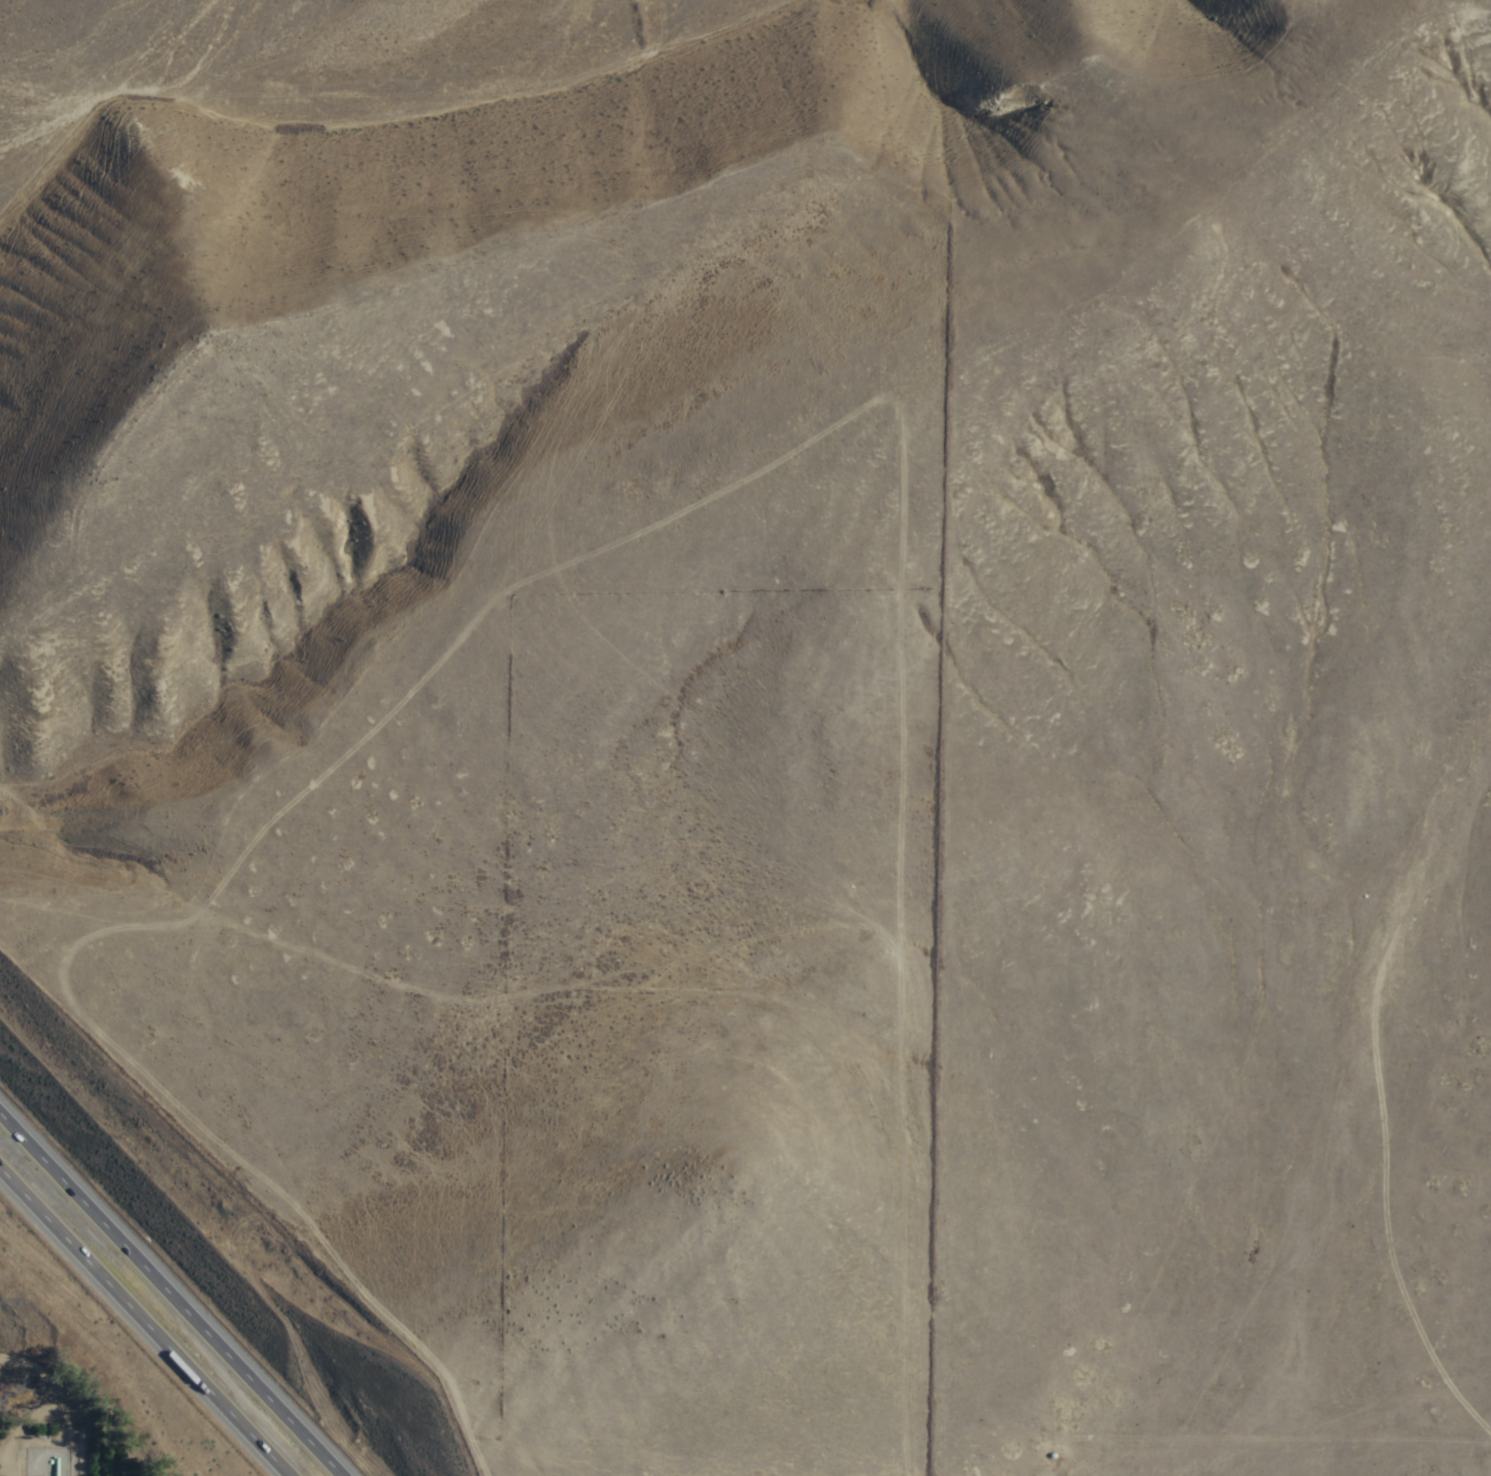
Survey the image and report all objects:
road: (174, 1291)
road: (141, 1325)
crop: (57, 1463)

